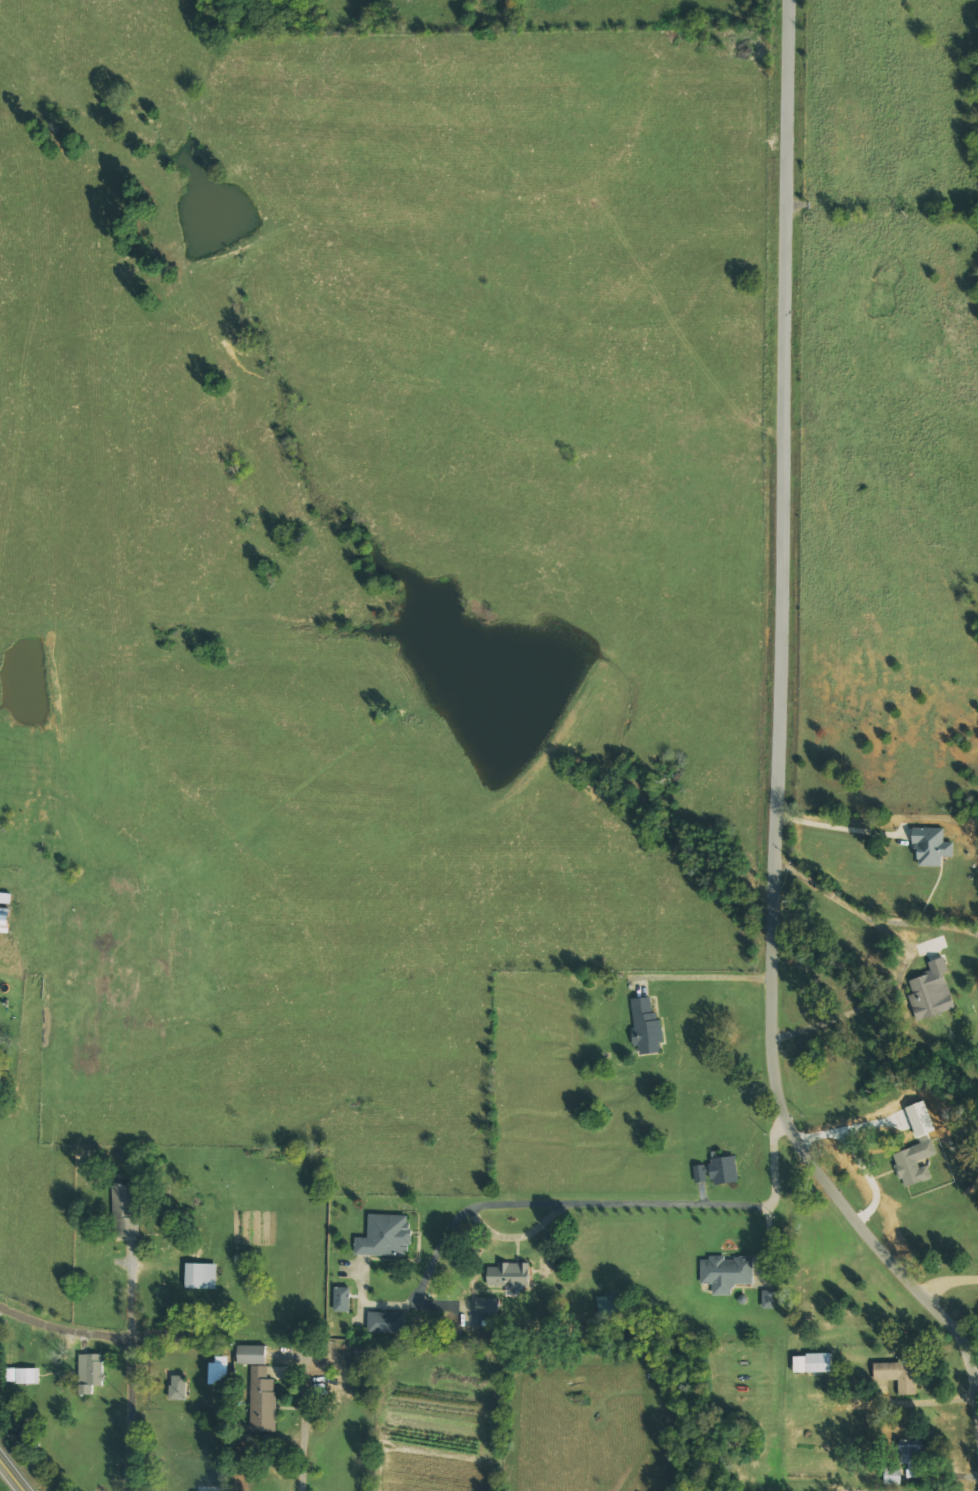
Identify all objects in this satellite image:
road: (789, 715)
road: (852, 832)
building: (938, 849)
building: (5, 897)
building: (3, 919)
road: (703, 982)
building: (931, 991)
building: (655, 1032)
building: (914, 1163)
building: (717, 1171)
road: (478, 1210)
building: (124, 1212)
building: (385, 1236)
building: (508, 1275)
building: (200, 1276)
building: (735, 1279)
road: (951, 1283)
building: (768, 1299)
building: (342, 1300)
building: (487, 1306)
building: (386, 1322)
road: (85, 1331)
building: (250, 1355)
building: (818, 1362)
building: (798, 1364)
building: (217, 1371)
building: (91, 1372)
building: (23, 1375)
building: (897, 1375)
building: (1, 1377)
building: (178, 1387)
building: (262, 1400)
road: (129, 1440)
building: (909, 1454)
building: (892, 1476)
road: (9, 1478)

